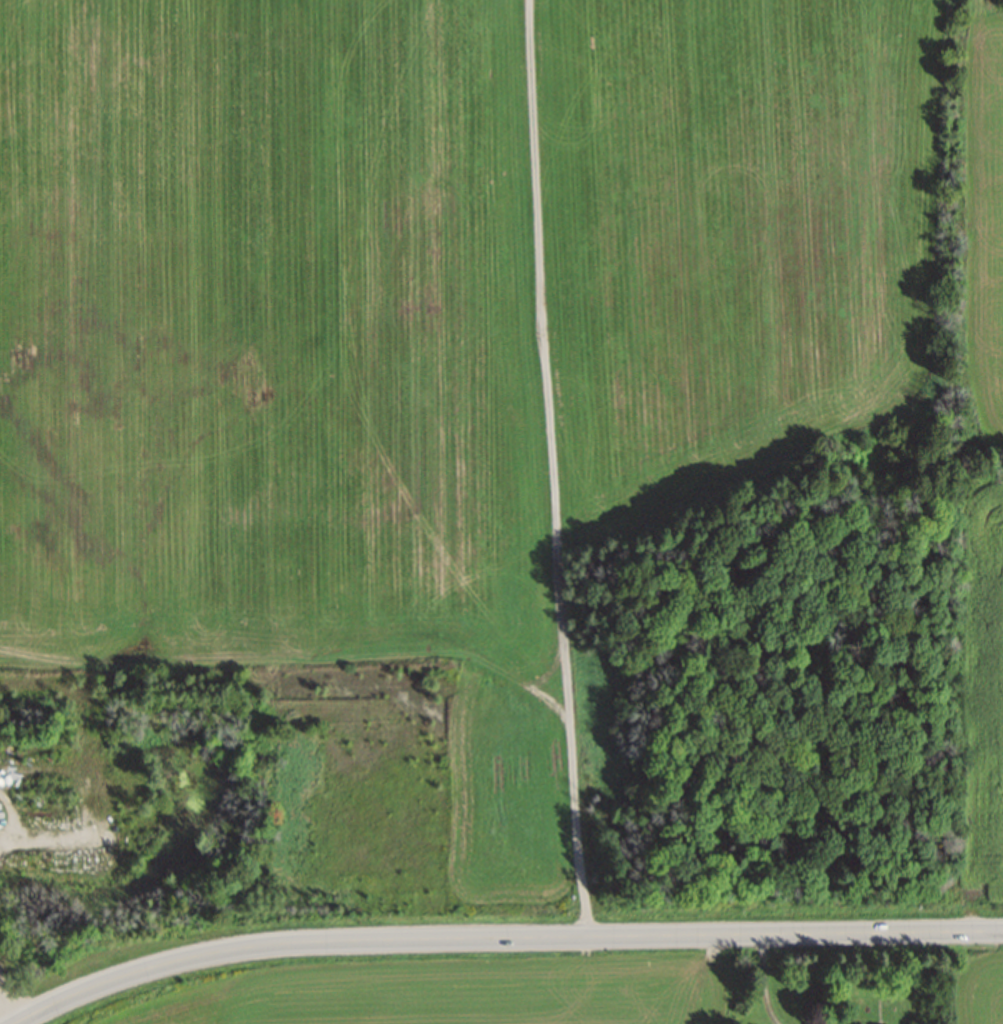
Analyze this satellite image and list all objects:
road: (499, 937)
road: (766, 980)
road: (8, 1005)

